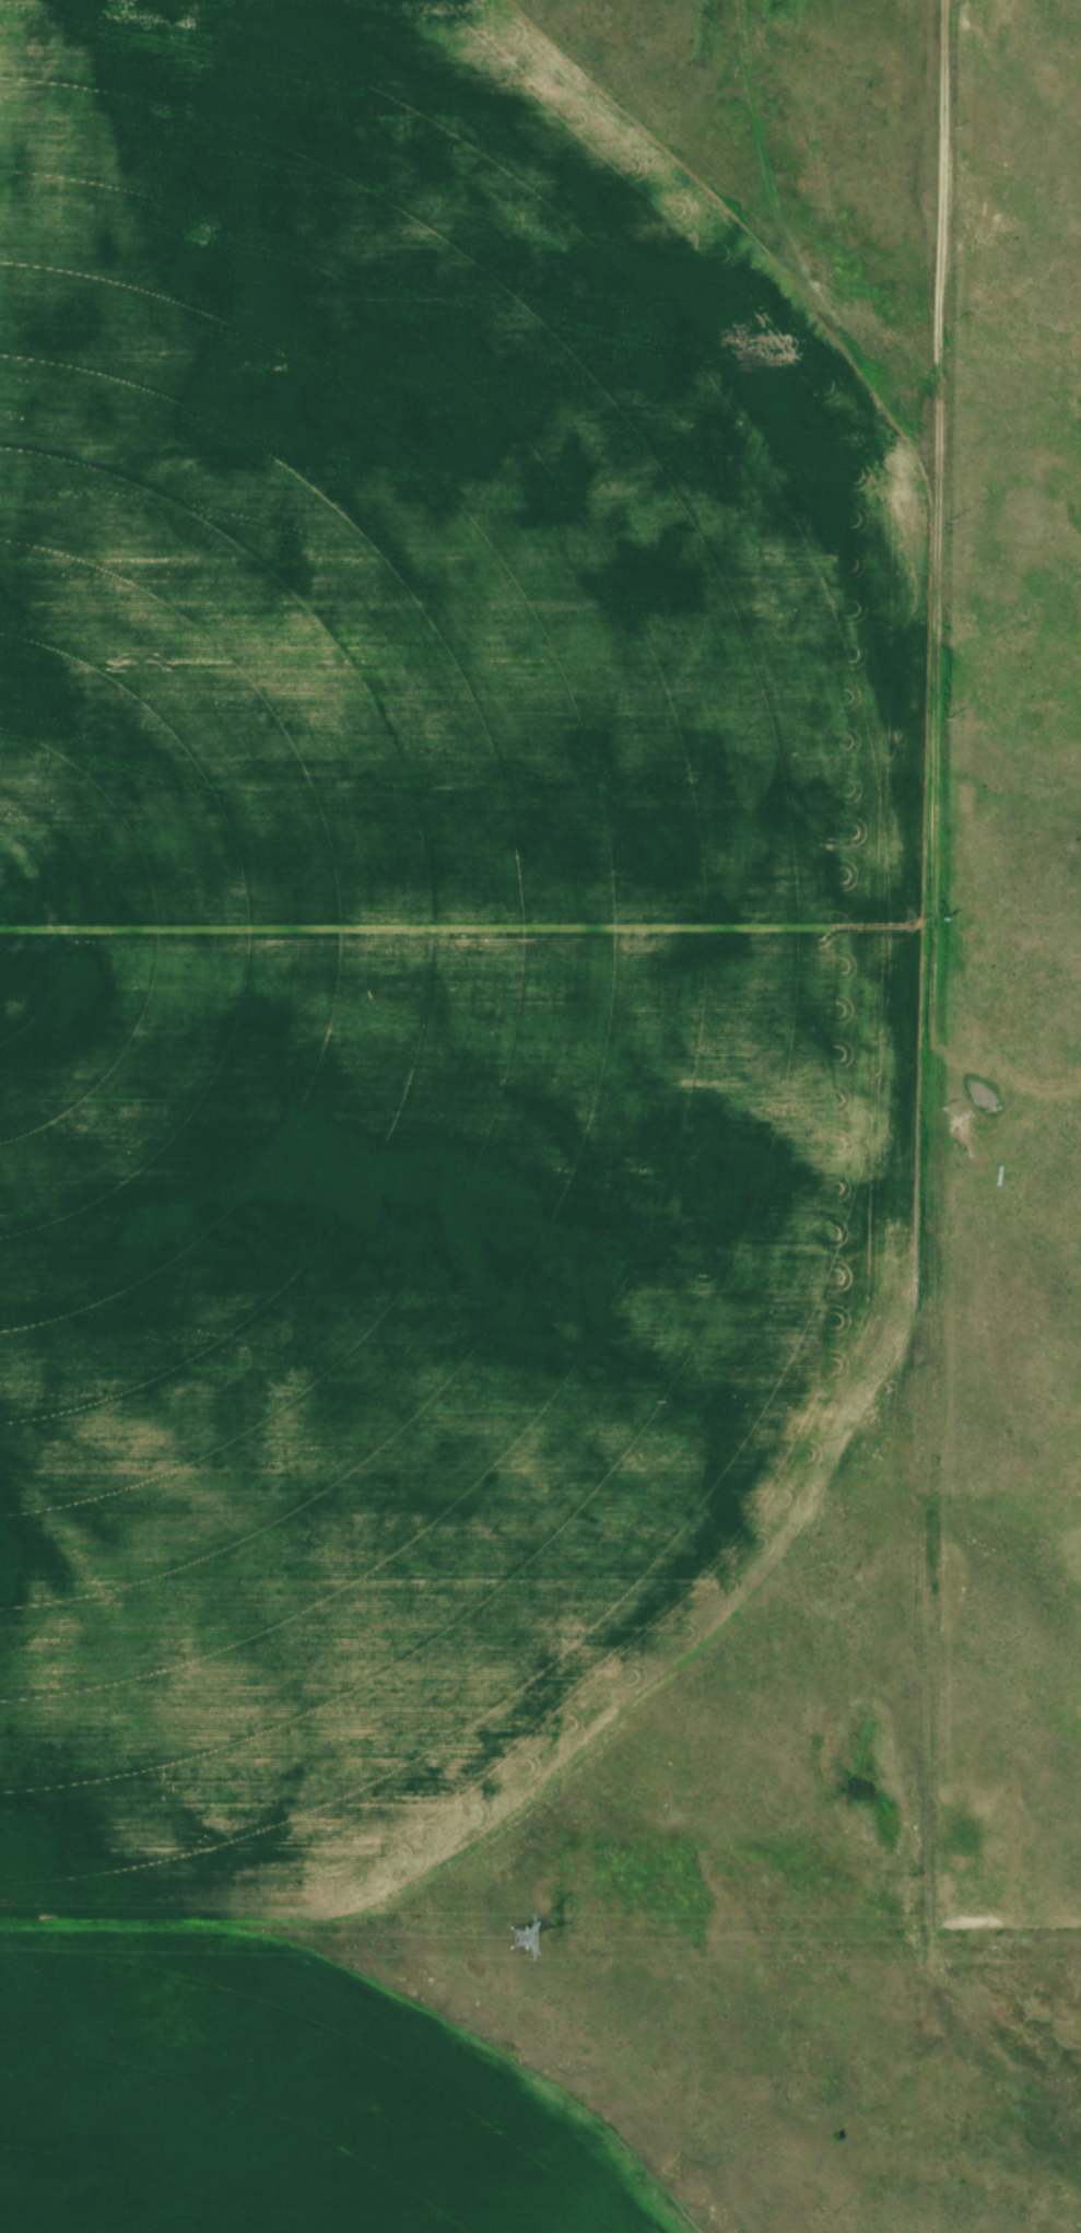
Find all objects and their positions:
power tower: (515, 1938)

